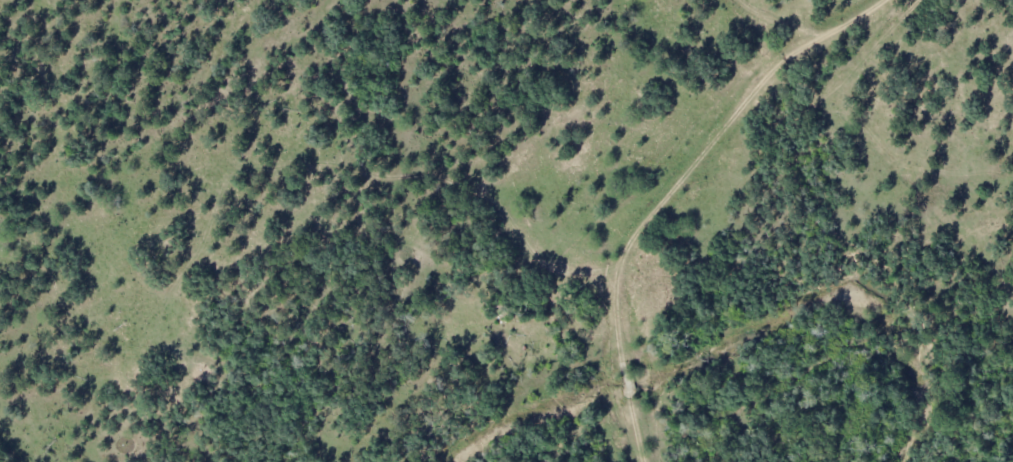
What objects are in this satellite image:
road: (725, 198)

